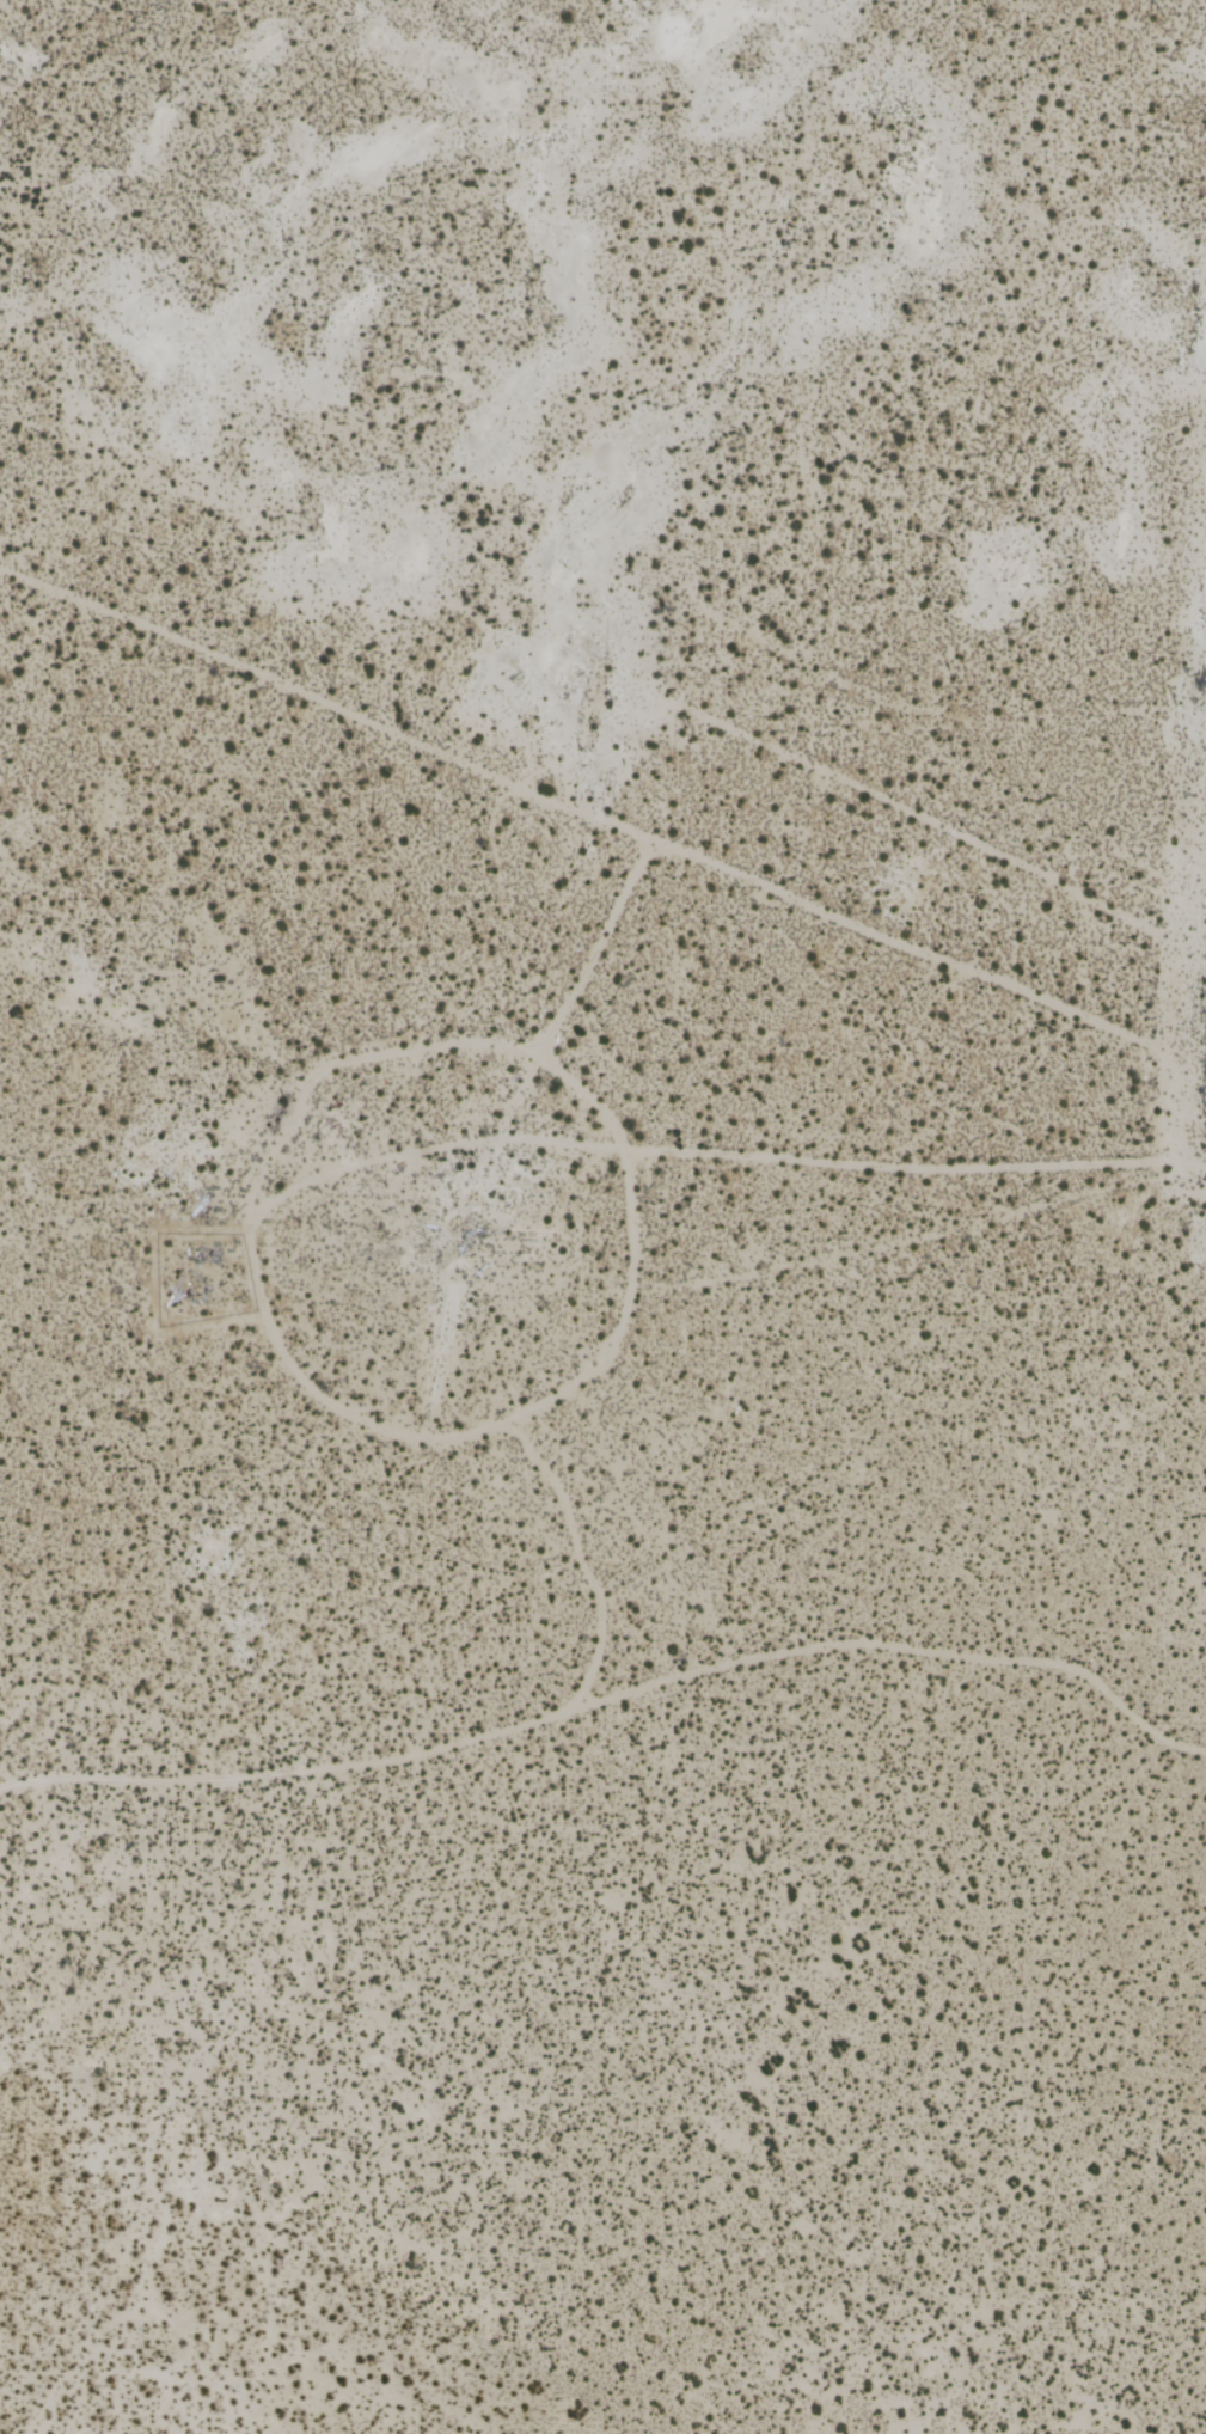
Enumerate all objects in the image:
airport: (602, 1217)

